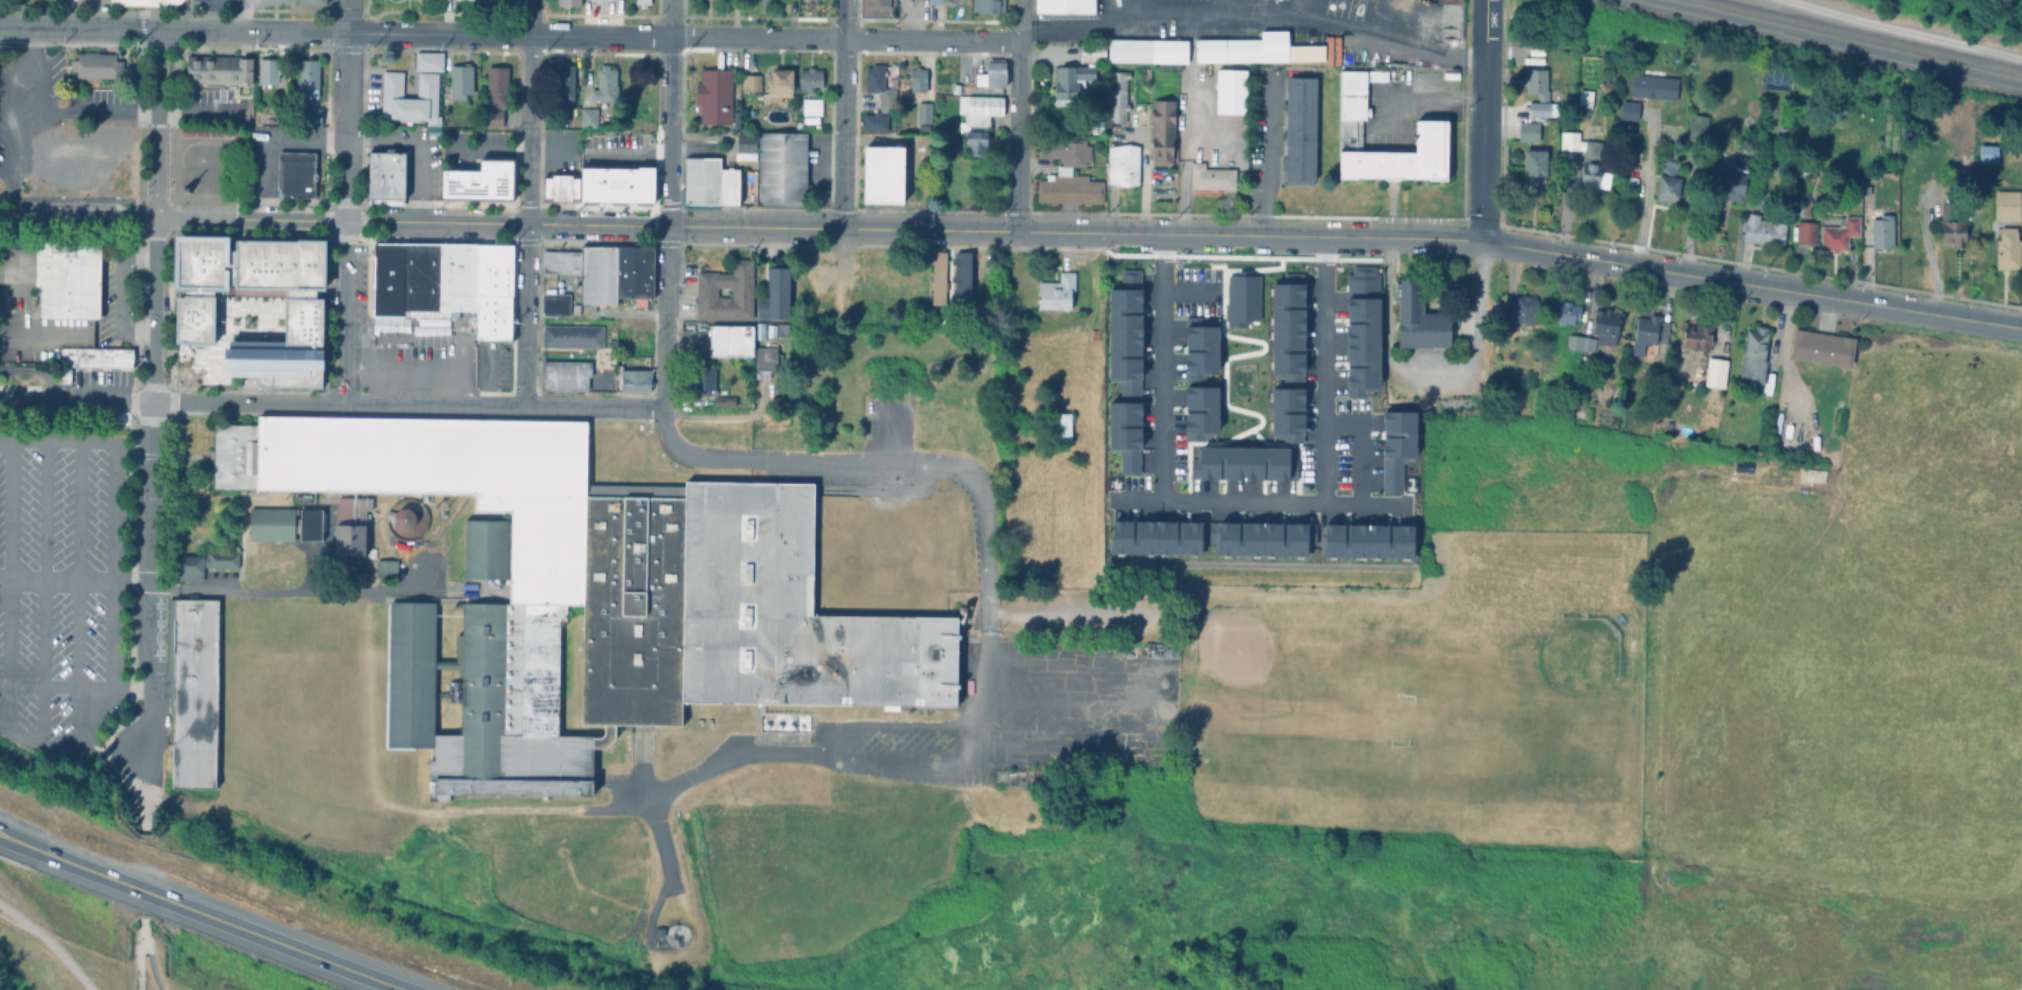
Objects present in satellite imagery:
building: (599, 0)
building: (168, 1)
building: (311, 1)
building: (941, 1)
building: (135, 2)
building: (567, 2)
building: (641, 2)
building: (876, 3)
building: (987, 5)
building: (1065, 5)
road: (1130, 7)
road: (1297, 7)
road: (1252, 9)
road: (212, 15)
road: (846, 19)
road: (1016, 20)
road: (78, 27)
road: (1905, 28)
road: (586, 34)
railway: (1857, 36)
building: (1255, 48)
building: (1147, 49)
building: (1328, 49)
building: (1336, 49)
building: (1092, 50)
building: (1351, 55)
building: (427, 60)
building: (97, 64)
building: (217, 69)
building: (269, 70)
building: (990, 72)
building: (1146, 72)
building: (1449, 73)
building: (1377, 74)
building: (310, 75)
building: (809, 77)
building: (1070, 78)
building: (459, 79)
building: (749, 82)
building: (779, 82)
building: (913, 82)
building: (1536, 82)
building: (495, 84)
building: (562, 84)
building: (603, 84)
building: (877, 85)
building: (1231, 90)
building: (391, 94)
building: (713, 94)
building: (1351, 94)
building: (1116, 95)
building: (1582, 96)
building: (423, 98)
road: (1430, 103)
building: (810, 105)
building: (1537, 108)
road: (91, 110)
building: (923, 111)
building: (313, 115)
building: (587, 115)
building: (490, 117)
building: (976, 118)
building: (873, 120)
building: (1696, 120)
road: (1483, 121)
road: (155, 124)
building: (1096, 125)
building: (1161, 130)
building: (1527, 130)
building: (1298, 131)
building: (205, 132)
road: (844, 134)
road: (10, 135)
road: (345, 136)
road: (1016, 136)
building: (744, 145)
road: (692, 147)
road: (512, 148)
building: (1984, 151)
road: (630, 153)
road: (1187, 153)
building: (1399, 157)
building: (1584, 158)
building: (1740, 159)
road: (1281, 161)
building: (1710, 162)
building: (91, 163)
building: (1122, 164)
building: (1533, 164)
building: (57, 165)
building: (1805, 165)
building: (780, 166)
park: (206, 167)
building: (881, 173)
building: (1067, 173)
building: (294, 174)
building: (384, 175)
building: (1210, 176)
building: (1628, 177)
road: (1141, 178)
building: (1663, 178)
building: (478, 179)
building: (700, 180)
building: (615, 184)
building: (1729, 184)
building: (728, 185)
building: (559, 186)
road: (343, 201)
road: (526, 202)
building: (2004, 202)
road: (666, 203)
building: (1805, 206)
road: (76, 218)
building: (1950, 222)
road: (497, 225)
building: (1760, 228)
building: (1836, 229)
building: (1880, 229)
building: (1802, 230)
road: (1435, 240)
building: (2004, 246)
road: (841, 257)
building: (559, 261)
building: (492, 268)
building: (622, 271)
building: (640, 271)
building: (419, 275)
building: (456, 275)
building: (596, 275)
building: (937, 277)
building: (386, 278)
building: (960, 278)
building: (66, 279)
road: (117, 289)
building: (705, 291)
building: (1054, 291)
building: (1124, 293)
building: (773, 295)
building: (1285, 295)
building: (250, 300)
building: (1241, 300)
building: (553, 304)
road: (19, 308)
building: (1517, 309)
building: (1563, 312)
building: (491, 317)
building: (1417, 318)
building: (1604, 324)
building: (781, 327)
building: (756, 328)
building: (769, 328)
building: (1646, 331)
road: (47, 333)
building: (1092, 333)
building: (1694, 334)
building: (571, 336)
building: (1122, 336)
building: (729, 339)
building: (1574, 341)
building: (1285, 342)
building: (1818, 345)
building: (1197, 348)
building: (1750, 353)
building: (94, 358)
building: (763, 359)
road: (423, 363)
road: (1321, 369)
building: (1714, 373)
building: (563, 374)
building: (1124, 375)
road: (485, 377)
road: (1429, 377)
building: (633, 378)
building: (702, 378)
building: (1767, 378)
road: (245, 388)
building: (1619, 396)
building: (1507, 397)
road: (76, 399)
building: (721, 399)
road: (246, 402)
road: (433, 403)
road: (593, 406)
building: (1198, 411)
building: (1285, 413)
building: (1122, 424)
building: (1059, 425)
building: (1394, 447)
road: (782, 459)
building: (1127, 459)
building: (1242, 463)
road: (150, 487)
road: (1180, 500)
building: (399, 515)
building: (283, 522)
building: (348, 522)
road: (114, 525)
building: (1154, 537)
building: (1259, 538)
building: (1365, 540)
building: (201, 561)
road: (10, 562)
road: (44, 562)
road: (80, 563)
building: (347, 566)
building: (384, 566)
road: (0, 576)
road: (210, 588)
parking lot: (62, 589)
building: (596, 597)
road: (984, 601)
road: (5, 608)
building: (1161, 648)
road: (56, 686)
building: (195, 695)
park: (1277, 695)
road: (1154, 701)
park: (1431, 702)
road: (1069, 704)
park: (1514, 709)
road: (744, 751)
road: (904, 760)
road: (140, 792)
road: (3, 831)
road: (3, 833)
road: (204, 913)
building: (656, 930)
road: (49, 944)
road: (141, 945)
road: (149, 957)

